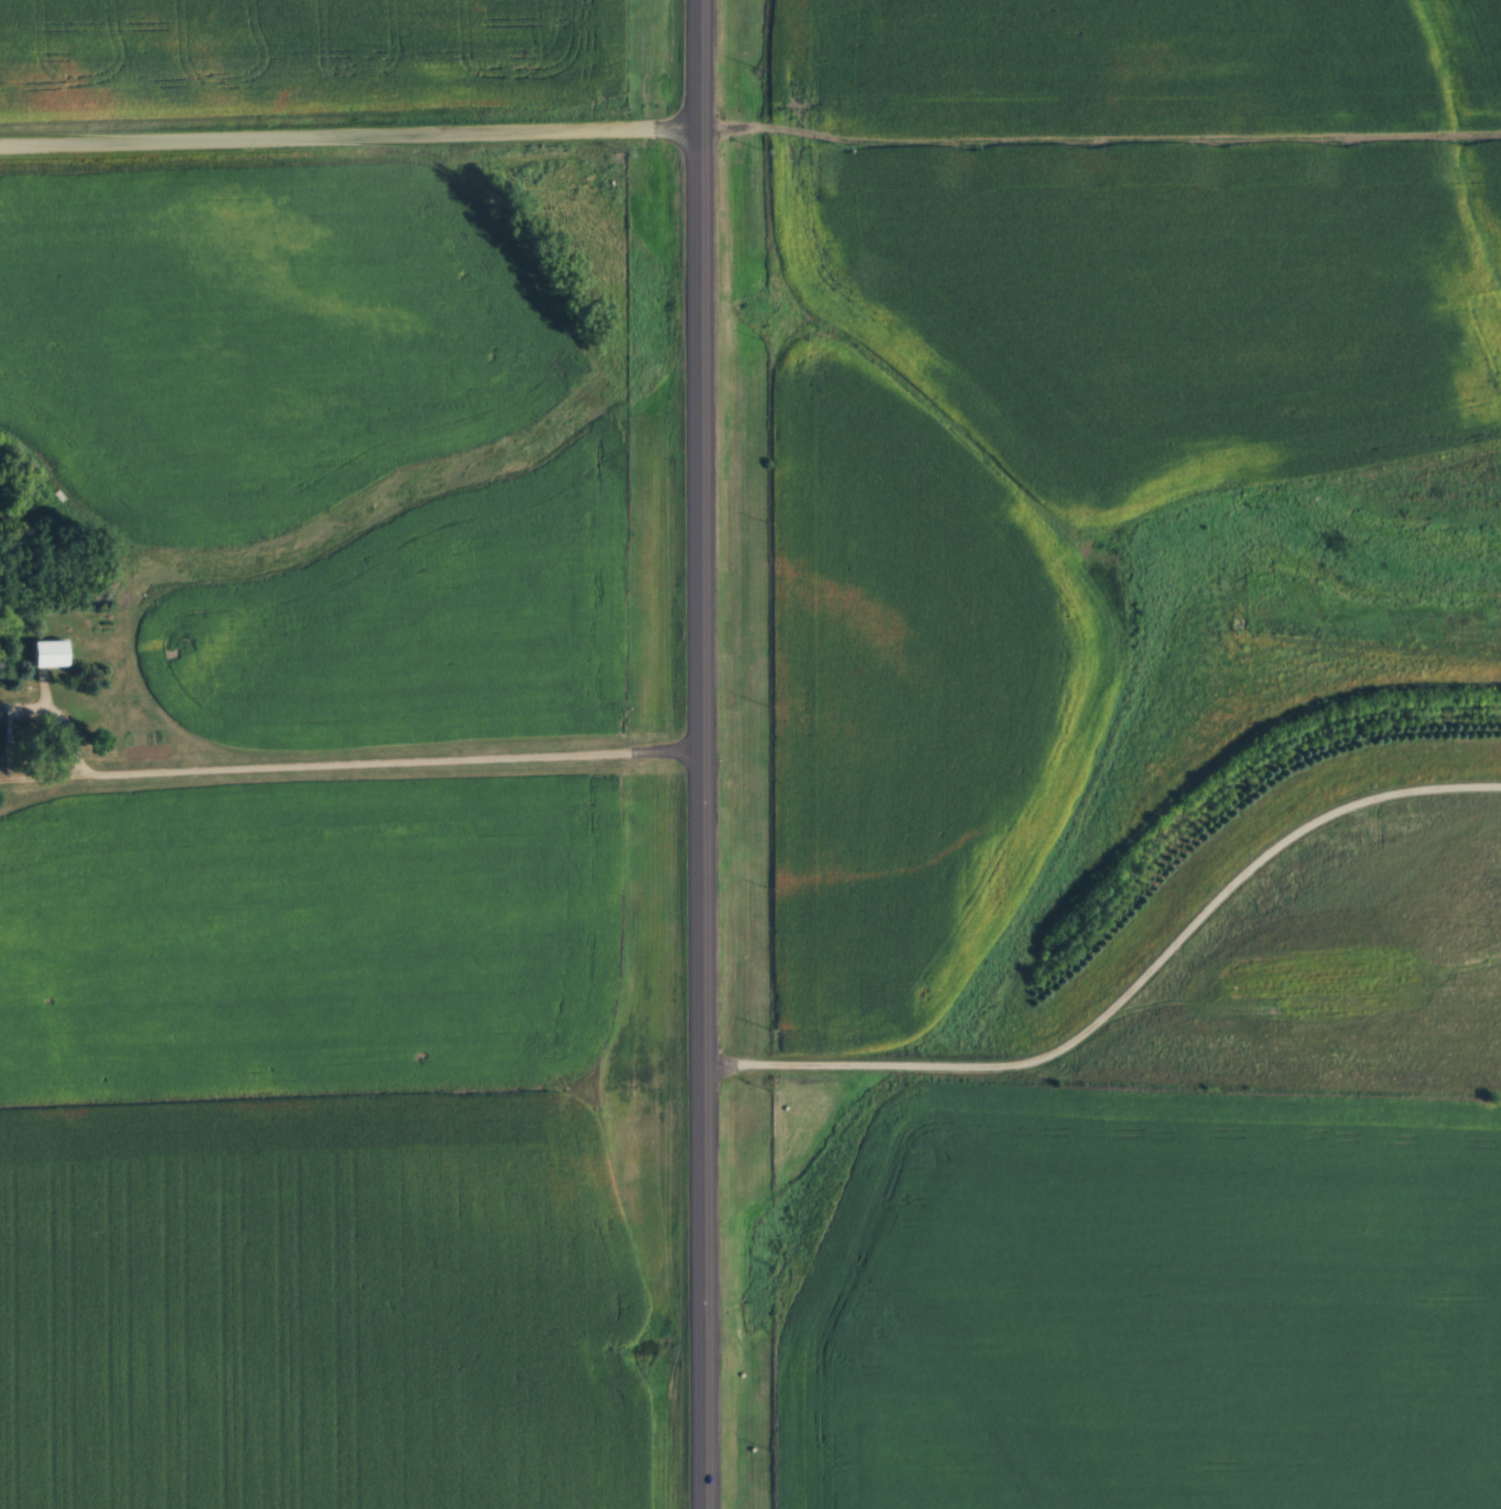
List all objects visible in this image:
road: (354, 142)
building: (50, 653)
building: (2, 730)
road: (705, 754)
road: (350, 764)
road: (1127, 993)

